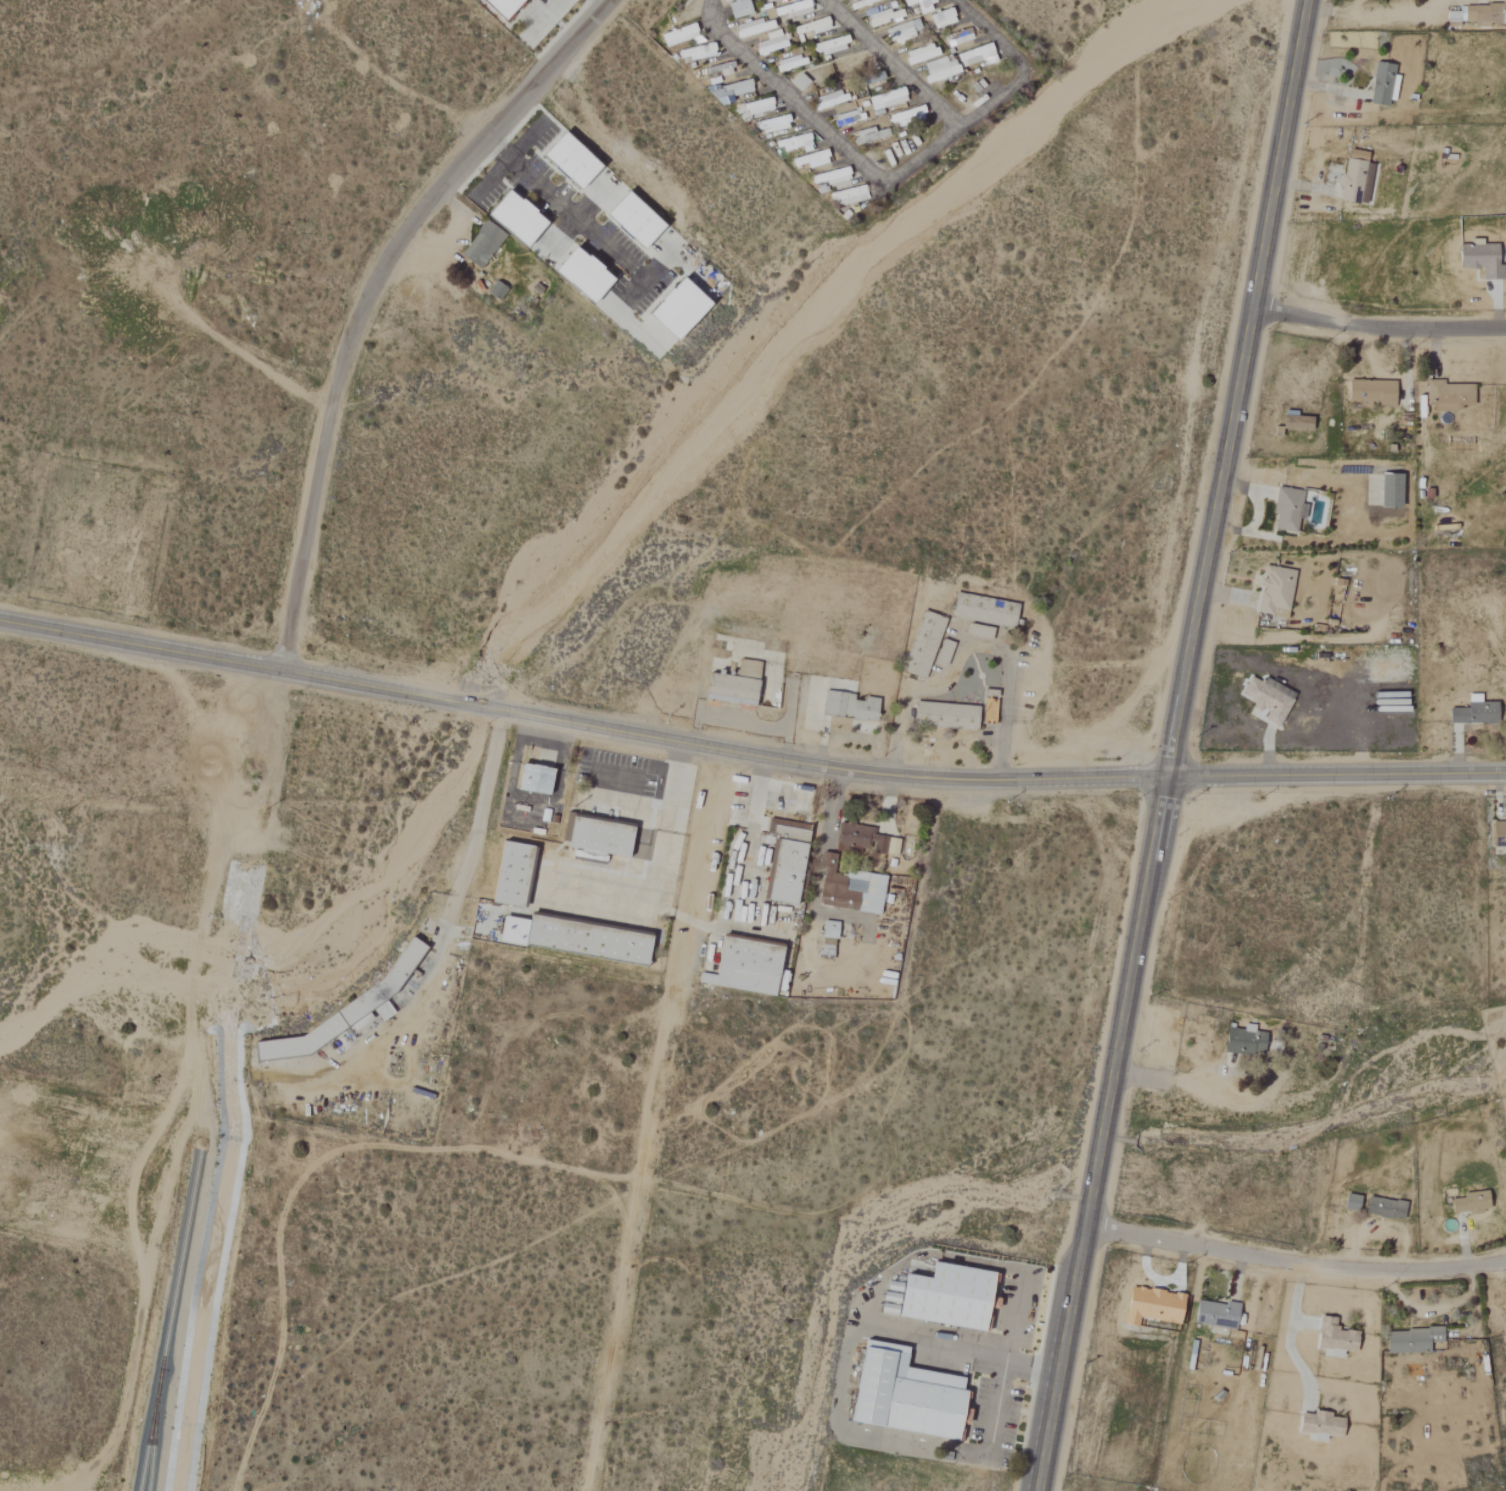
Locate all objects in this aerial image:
building: (768, 0)
building: (790, 0)
road: (605, 2)
building: (921, 5)
building: (499, 6)
building: (737, 8)
building: (792, 9)
building: (1485, 14)
road: (546, 16)
building: (880, 17)
building: (942, 18)
building: (811, 27)
building: (751, 28)
building: (902, 32)
road: (989, 34)
building: (677, 35)
building: (770, 42)
building: (830, 46)
building: (694, 52)
building: (919, 54)
building: (976, 56)
road: (890, 64)
building: (938, 68)
building: (799, 83)
building: (1380, 84)
building: (735, 88)
building: (886, 99)
building: (829, 100)
building: (903, 116)
building: (847, 118)
building: (813, 159)
road: (850, 159)
building: (566, 163)
building: (829, 177)
building: (1351, 177)
building: (847, 196)
road: (564, 209)
building: (512, 220)
building: (629, 221)
building: (480, 245)
building: (1479, 259)
building: (579, 276)
building: (495, 291)
road: (366, 296)
building: (674, 310)
road: (1379, 327)
building: (1370, 392)
building: (1447, 396)
building: (1295, 422)
building: (1389, 490)
building: (1286, 509)
building: (1272, 591)
building: (1005, 614)
building: (921, 645)
road: (968, 647)
building: (942, 652)
building: (733, 684)
building: (1265, 697)
building: (847, 706)
building: (1473, 712)
building: (943, 716)
road: (1173, 745)
road: (748, 754)
building: (531, 779)
building: (1498, 834)
building: (596, 837)
building: (864, 839)
building: (784, 860)
road: (656, 861)
building: (507, 874)
road: (463, 875)
building: (850, 890)
building: (572, 939)
building: (826, 940)
building: (743, 967)
building: (344, 1011)
building: (1243, 1041)
road: (1175, 1082)
road: (655, 1120)
building: (1350, 1202)
building: (1468, 1203)
building: (1384, 1208)
road: (1295, 1262)
building: (1151, 1306)
building: (1214, 1314)
railway: (170, 1317)
road: (1289, 1335)
road: (927, 1338)
building: (1333, 1338)
building: (1410, 1340)
road: (1027, 1363)
building: (901, 1395)
road: (996, 1402)
railway: (151, 1422)
building: (1318, 1426)

